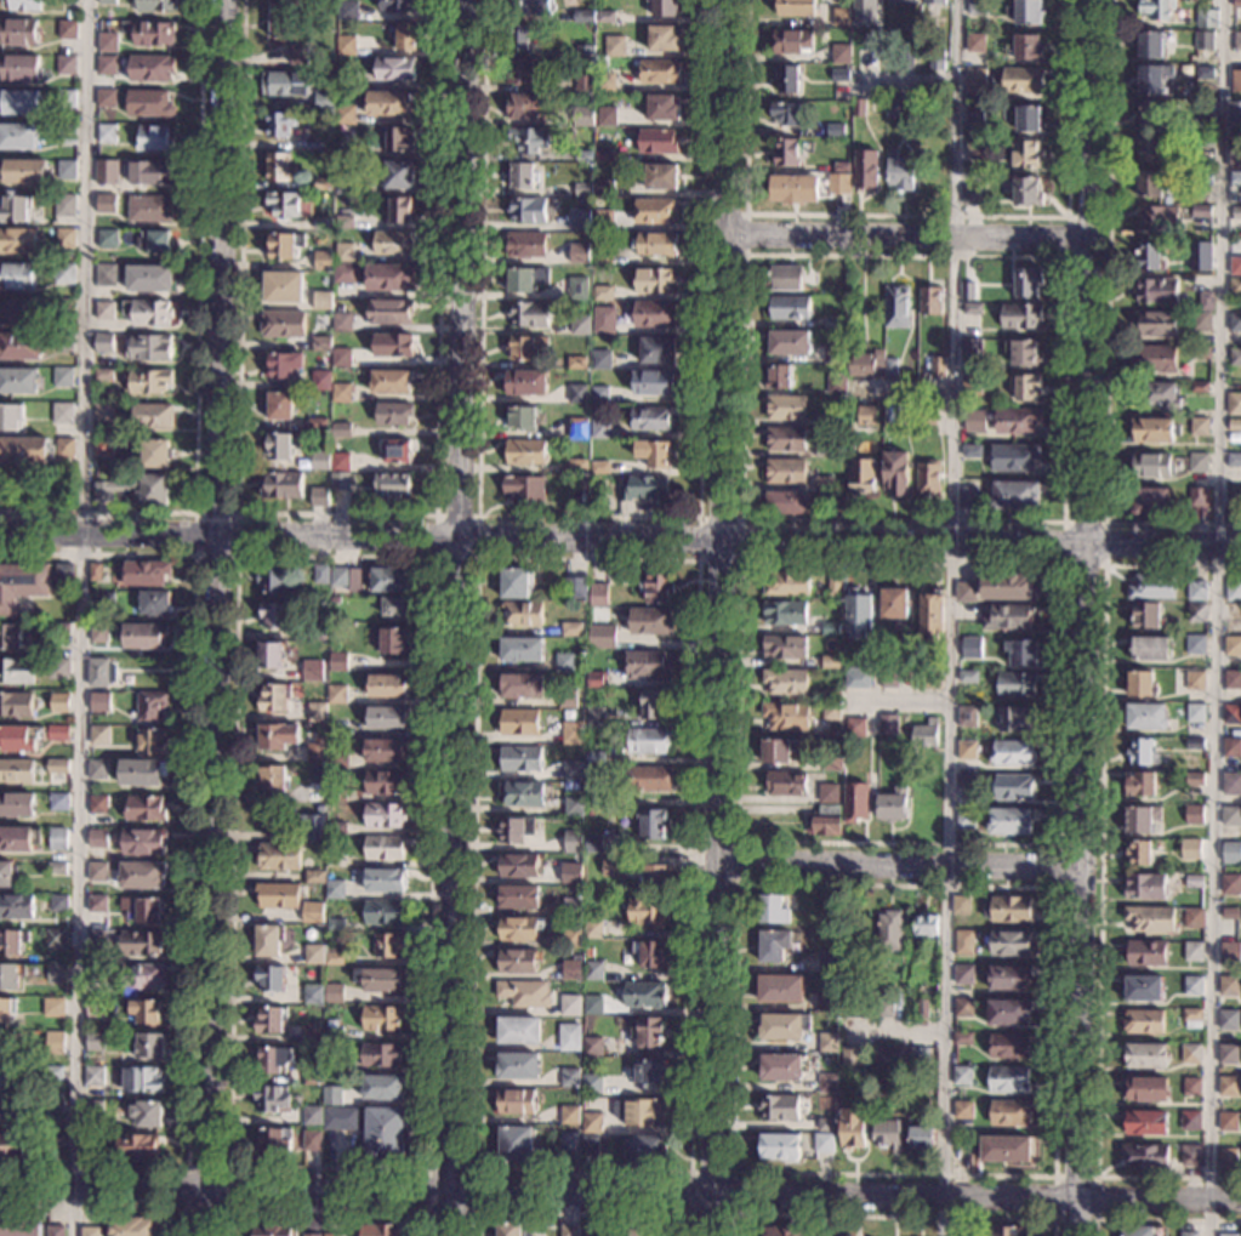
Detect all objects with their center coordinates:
building: (108, 2)
building: (903, 2)
building: (1236, 4)
building: (23, 5)
building: (155, 5)
building: (400, 5)
building: (932, 5)
building: (531, 7)
building: (664, 7)
building: (797, 7)
building: (977, 7)
building: (1159, 8)
building: (348, 11)
building: (865, 11)
building: (1026, 12)
building: (584, 17)
building: (605, 17)
building: (842, 17)
building: (280, 19)
building: (1207, 19)
building: (68, 29)
building: (18, 33)
building: (154, 33)
building: (406, 36)
building: (522, 36)
building: (662, 39)
building: (1205, 40)
building: (1237, 41)
building: (108, 42)
building: (792, 42)
building: (975, 42)
building: (346, 45)
building: (1150, 45)
building: (614, 46)
building: (1025, 47)
building: (584, 51)
building: (841, 53)
building: (300, 55)
building: (906, 59)
building: (66, 64)
building: (107, 65)
building: (19, 68)
building: (152, 68)
building: (394, 68)
building: (526, 70)
building: (660, 72)
building: (1205, 73)
building: (841, 74)
building: (786, 79)
building: (1152, 79)
building: (345, 80)
road: (909, 80)
building: (975, 80)
building: (1023, 80)
building: (1236, 80)
building: (584, 82)
building: (604, 82)
building: (286, 84)
building: (106, 98)
building: (67, 99)
building: (346, 99)
building: (324, 101)
building: (19, 102)
building: (149, 103)
building: (389, 103)
building: (662, 107)
building: (898, 107)
building: (526, 108)
building: (859, 108)
building: (786, 113)
building: (974, 114)
building: (346, 115)
building: (1151, 115)
building: (584, 116)
building: (605, 116)
building: (1029, 118)
building: (1235, 118)
building: (280, 125)
building: (1211, 125)
building: (835, 130)
building: (107, 133)
building: (66, 135)
building: (17, 136)
building: (155, 138)
building: (398, 139)
building: (529, 139)
building: (657, 142)
building: (1205, 142)
building: (315, 143)
building: (975, 149)
building: (1156, 149)
building: (785, 152)
building: (343, 153)
building: (1026, 153)
building: (1235, 153)
building: (582, 155)
building: (603, 156)
building: (279, 167)
building: (842, 167)
building: (67, 169)
building: (866, 170)
building: (24, 171)
building: (899, 171)
building: (107, 172)
building: (149, 173)
building: (399, 175)
building: (522, 175)
building: (1235, 176)
building: (660, 177)
building: (1203, 178)
building: (1151, 182)
building: (324, 183)
building: (345, 183)
building: (838, 184)
building: (604, 187)
building: (793, 188)
building: (582, 189)
building: (1027, 192)
building: (973, 196)
building: (106, 203)
building: (284, 204)
building: (64, 205)
building: (15, 209)
building: (150, 209)
building: (400, 210)
building: (526, 210)
building: (654, 211)
building: (1201, 212)
building: (1236, 213)
road: (906, 217)
building: (604, 220)
building: (1160, 220)
building: (345, 222)
building: (581, 223)
building: (323, 224)
building: (66, 238)
building: (19, 239)
building: (107, 239)
road: (907, 239)
road: (1065, 239)
building: (154, 241)
building: (394, 243)
building: (285, 244)
building: (526, 244)
building: (655, 244)
building: (1202, 249)
building: (345, 251)
building: (577, 254)
building: (603, 255)
road: (742, 256)
building: (1148, 256)
road: (1064, 260)
building: (323, 261)
building: (1235, 266)
building: (64, 273)
building: (346, 273)
building: (19, 274)
building: (107, 275)
building: (389, 277)
building: (150, 278)
building: (785, 278)
building: (526, 279)
building: (654, 281)
building: (1026, 281)
building: (283, 287)
building: (1235, 287)
building: (577, 289)
building: (967, 290)
building: (1155, 291)
building: (600, 292)
building: (321, 301)
building: (929, 301)
building: (1206, 301)
building: (63, 303)
building: (896, 306)
building: (790, 308)
building: (973, 309)
building: (104, 311)
building: (13, 312)
building: (148, 312)
building: (391, 312)
building: (528, 314)
building: (654, 314)
building: (1020, 317)
building: (1235, 320)
building: (342, 321)
building: (603, 321)
building: (1201, 321)
building: (835, 323)
building: (1156, 323)
building: (284, 324)
building: (580, 325)
road: (1108, 329)
building: (63, 342)
building: (103, 342)
building: (789, 342)
building: (321, 343)
building: (393, 344)
building: (21, 346)
building: (526, 347)
building: (149, 348)
building: (972, 348)
building: (656, 351)
building: (1025, 352)
building: (832, 353)
building: (1199, 353)
road: (197, 354)
building: (341, 357)
building: (1235, 357)
building: (600, 359)
building: (1154, 359)
building: (576, 361)
building: (866, 363)
building: (283, 364)
building: (890, 366)
building: (938, 366)
building: (104, 374)
building: (63, 376)
building: (778, 376)
building: (17, 381)
building: (148, 381)
building: (321, 381)
building: (391, 381)
building: (526, 382)
building: (651, 383)
building: (835, 383)
building: (970, 385)
building: (1026, 386)
building: (1200, 387)
building: (341, 392)
building: (577, 393)
building: (599, 394)
road: (905, 397)
building: (1161, 397)
building: (1234, 403)
building: (279, 405)
building: (786, 408)
building: (103, 411)
building: (62, 412)
building: (393, 412)
building: (926, 415)
building: (10, 416)
building: (153, 416)
building: (523, 416)
building: (866, 416)
building: (649, 418)
building: (825, 420)
building: (974, 420)
building: (1017, 421)
building: (317, 423)
building: (1199, 427)
building: (579, 428)
building: (341, 429)
building: (600, 429)
building: (1152, 429)
building: (1235, 432)
building: (785, 438)
building: (280, 445)
building: (64, 448)
building: (103, 448)
building: (332, 448)
building: (24, 450)
building: (395, 451)
building: (824, 451)
building: (972, 451)
building: (525, 452)
building: (155, 454)
building: (653, 454)
building: (1013, 458)
building: (320, 460)
building: (1233, 460)
building: (338, 461)
building: (1199, 463)
building: (579, 466)
building: (1151, 466)
building: (599, 468)
building: (785, 472)
building: (895, 473)
building: (861, 475)
building: (927, 479)
building: (340, 480)
building: (824, 482)
building: (281, 485)
building: (582, 485)
building: (391, 486)
building: (523, 488)
building: (645, 489)
building: (136, 490)
building: (1014, 495)
building: (319, 497)
building: (967, 497)
building: (1199, 497)
building: (1234, 499)
building: (836, 501)
building: (1150, 501)
building: (786, 502)
road: (337, 516)
road: (477, 518)
road: (588, 518)
road: (620, 543)
road: (237, 556)
road: (433, 559)
road: (739, 563)
road: (696, 564)
road: (739, 564)
road: (1104, 568)
building: (95, 571)
building: (144, 573)
building: (63, 575)
building: (320, 575)
building: (272, 579)
building: (345, 579)
building: (389, 580)
building: (513, 582)
building: (22, 583)
building: (787, 585)
building: (833, 586)
building: (1008, 586)
building: (1151, 587)
building: (575, 588)
building: (656, 588)
building: (1233, 589)
building: (1196, 591)
building: (964, 592)
building: (598, 594)
building: (103, 602)
building: (153, 602)
building: (893, 603)
building: (397, 606)
building: (969, 611)
building: (1196, 611)
building: (785, 613)
building: (522, 614)
building: (858, 614)
building: (932, 614)
building: (1145, 614)
building: (277, 615)
road: (81, 617)
road: (212, 617)
road: (455, 617)
road: (717, 617)
road: (950, 617)
building: (1008, 617)
road: (1087, 617)
road: (1216, 617)
building: (650, 621)
building: (59, 628)
building: (571, 628)
building: (830, 628)
building: (318, 631)
building: (98, 632)
building: (143, 634)
building: (602, 636)
building: (11, 637)
building: (61, 640)
building: (395, 640)
building: (1195, 644)
building: (785, 647)
building: (1233, 647)
building: (970, 648)
building: (522, 649)
building: (1149, 649)
building: (1021, 653)
building: (271, 655)
building: (338, 661)
building: (564, 662)
building: (830, 662)
building: (647, 665)
building: (58, 668)
building: (17, 671)
building: (313, 671)
building: (99, 672)
building: (967, 677)
building: (856, 678)
building: (930, 678)
building: (596, 679)
building: (888, 679)
building: (1233, 679)
building: (1195, 680)
building: (785, 682)
building: (1139, 683)
building: (1015, 684)
building: (388, 685)
building: (522, 685)
building: (337, 694)
building: (831, 696)
building: (274, 697)
building: (567, 699)
building: (99, 700)
road: (896, 701)
building: (59, 702)
building: (654, 702)
building: (16, 705)
building: (152, 706)
building: (317, 712)
building: (831, 712)
building: (1195, 713)
building: (1231, 714)
building: (596, 716)
building: (786, 716)
building: (967, 716)
building: (387, 717)
building: (1146, 717)
building: (1014, 719)
building: (519, 722)
building: (887, 725)
building: (338, 727)
building: (855, 728)
building: (57, 733)
building: (573, 733)
building: (924, 734)
building: (98, 735)
building: (273, 736)
building: (16, 739)
building: (648, 740)
building: (152, 742)
building: (1194, 744)
building: (1231, 747)
building: (315, 748)
building: (966, 750)
building: (385, 751)
building: (778, 751)
building: (1139, 752)
building: (1012, 753)
building: (594, 757)
building: (337, 758)
building: (519, 758)
building: (832, 762)
building: (57, 767)
building: (97, 769)
building: (17, 770)
building: (573, 770)
building: (142, 771)
building: (272, 779)
building: (648, 779)
building: (964, 779)
building: (1194, 779)
building: (386, 782)
building: (786, 782)
building: (1140, 784)
building: (1231, 784)
building: (1013, 787)
building: (314, 792)
building: (522, 793)
building: (829, 793)
building: (336, 794)
building: (58, 802)
building: (855, 802)
building: (16, 804)
building: (98, 804)
building: (892, 805)
building: (573, 807)
building: (144, 808)
building: (1192, 814)
building: (385, 815)
building: (1231, 816)
building: (964, 818)
building: (1140, 819)
building: (825, 821)
building: (1009, 821)
building: (653, 824)
building: (313, 827)
building: (336, 827)
building: (517, 828)
building: (18, 838)
building: (97, 838)
building: (57, 839)
building: (573, 841)
building: (143, 842)
building: (593, 843)
road: (1058, 847)
building: (385, 848)
building: (1190, 850)
building: (1138, 853)
building: (1231, 853)
building: (279, 856)
road: (190, 859)
building: (574, 859)
building: (335, 860)
road: (899, 862)
building: (518, 865)
building: (613, 866)
building: (56, 867)
building: (97, 871)
building: (6, 875)
building: (142, 875)
building: (574, 876)
building: (315, 877)
building: (657, 877)
road: (1098, 877)
building: (385, 879)
building: (1194, 881)
road: (735, 884)
building: (1230, 884)
road: (736, 885)
building: (1145, 887)
building: (335, 888)
building: (278, 895)
building: (518, 896)
building: (96, 902)
building: (57, 904)
building: (829, 904)
building: (960, 905)
building: (17, 906)
building: (571, 907)
building: (142, 909)
building: (773, 910)
building: (1008, 910)
building: (649, 911)
building: (385, 912)
building: (313, 913)
building: (1229, 915)
building: (1194, 918)
building: (1150, 919)
building: (335, 924)
building: (924, 924)
building: (522, 928)
building: (593, 928)
building: (889, 932)
building: (55, 939)
building: (96, 939)
building: (571, 939)
building: (268, 940)
building: (12, 941)
building: (141, 942)
building: (963, 942)
building: (1007, 942)
building: (388, 945)
building: (773, 945)
building: (1192, 951)
building: (1230, 951)
building: (1145, 952)
building: (313, 955)
building: (651, 955)
building: (332, 958)
building: (517, 961)
building: (826, 961)
building: (571, 970)
building: (593, 970)
building: (55, 973)
building: (96, 973)
building: (10, 975)
building: (963, 975)
building: (143, 976)
building: (271, 976)
building: (1007, 978)
building: (380, 979)
building: (1192, 985)
building: (1228, 986)
building: (780, 989)
building: (1143, 989)
building: (334, 993)
building: (524, 993)
building: (313, 995)
building: (645, 995)
building: (826, 1002)
building: (592, 1004)
building: (570, 1006)
building: (962, 1007)
building: (53, 1008)
building: (95, 1008)
building: (884, 1008)
building: (921, 1008)
building: (6, 1010)
building: (146, 1012)
building: (1007, 1013)
building: (1191, 1018)
building: (382, 1019)
building: (269, 1020)
building: (1228, 1020)
building: (1143, 1021)
building: (784, 1026)
building: (518, 1030)
road: (894, 1031)
building: (649, 1032)
building: (332, 1033)
building: (312, 1035)
building: (569, 1037)
building: (962, 1038)
building: (95, 1041)
building: (827, 1042)
building: (55, 1043)
building: (6, 1046)
building: (149, 1046)
building: (592, 1046)
building: (1008, 1046)
building: (1190, 1053)
building: (1226, 1054)
building: (381, 1055)
building: (1145, 1055)
building: (850, 1056)
building: (917, 1056)
building: (269, 1060)
building: (887, 1060)
building: (517, 1065)
building: (332, 1066)
building: (784, 1067)
building: (53, 1072)
building: (648, 1073)
building: (93, 1075)
building: (312, 1075)
building: (962, 1075)
building: (13, 1077)
building: (570, 1077)
building: (142, 1080)
building: (1008, 1080)
building: (827, 1083)
building: (592, 1084)
building: (1190, 1086)
building: (382, 1087)
building: (1228, 1087)
building: (1146, 1089)
building: (331, 1095)
building: (272, 1099)
building: (514, 1101)
building: (53, 1105)
building: (779, 1109)
building: (92, 1110)
building: (963, 1110)
building: (12, 1111)
building: (639, 1111)
building: (147, 1113)
building: (1011, 1113)
building: (312, 1115)
building: (569, 1115)
building: (340, 1118)
building: (1189, 1121)
building: (1228, 1122)
building: (592, 1123)
building: (1144, 1123)
building: (826, 1124)
building: (853, 1128)
building: (382, 1134)
building: (888, 1134)
building: (921, 1138)
building: (53, 1140)
building: (272, 1140)
building: (312, 1140)
building: (90, 1143)
building: (822, 1143)
building: (514, 1145)
building: (568, 1145)
building: (588, 1145)
building: (11, 1146)
building: (136, 1146)
building: (779, 1147)
building: (1004, 1149)
building: (644, 1150)
building: (1190, 1156)
building: (1145, 1157)
building: (1226, 1158)
road: (228, 1169)
road: (1095, 1178)
road: (620, 1196)
road: (104, 1211)
road: (325, 1212)
road: (467, 1214)
road: (577, 1215)
road: (733, 1215)
road: (889, 1219)
road: (1161, 1221)
building: (18, 1225)
building: (132, 1226)
building: (273, 1230)
building: (380, 1230)
building: (511, 1230)
building: (568, 1230)
building: (591, 1230)
building: (1008, 1230)
building: (56, 1231)
building: (91, 1231)
building: (784, 1231)
building: (1137, 1231)
building: (645, 1232)
building: (960, 1234)
building: (311, 1235)
building: (330, 1235)
building: (1188, 1235)
building: (1226, 1235)

